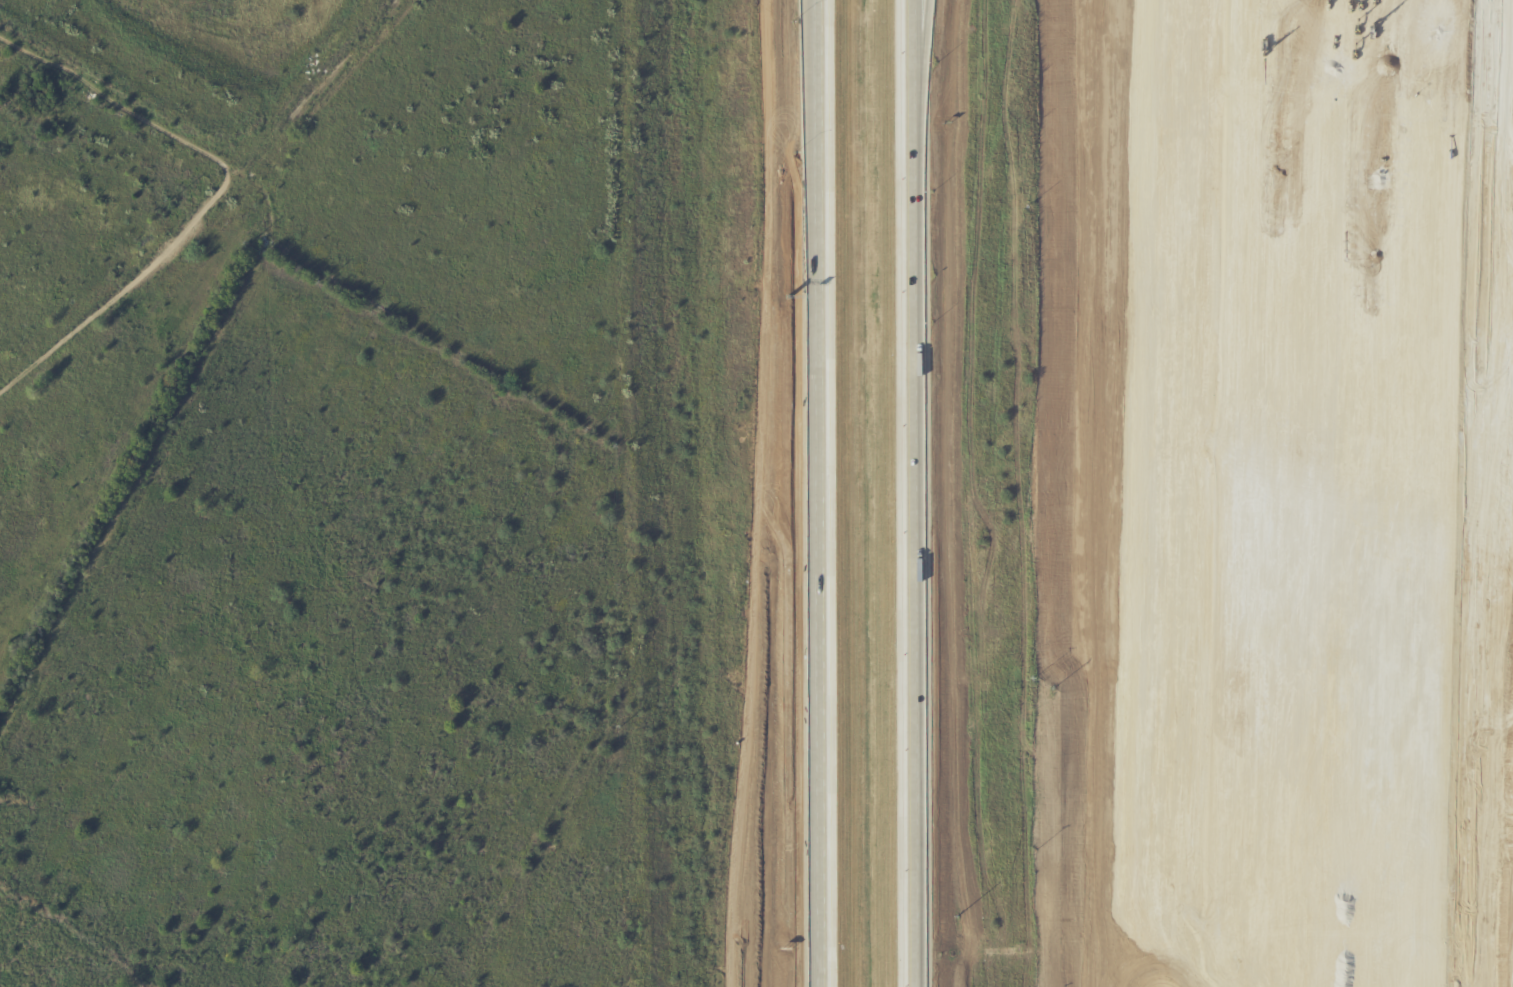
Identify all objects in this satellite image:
road: (1115, 8)
road: (919, 83)
road: (926, 83)
road: (1144, 172)
road: (206, 205)
road: (1166, 267)
road: (1203, 267)
road: (1140, 334)
road: (815, 493)
road: (1116, 493)
road: (1134, 493)
road: (1074, 494)
road: (1136, 497)
building: (1367, 499)
road: (918, 577)
road: (1133, 659)
road: (1154, 784)
road: (1191, 784)
road: (1128, 824)

